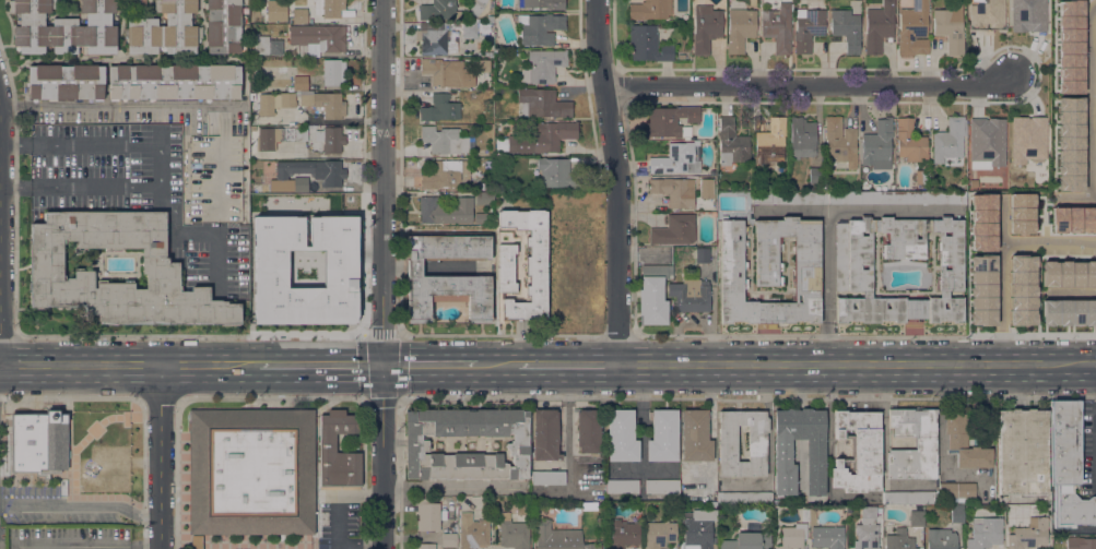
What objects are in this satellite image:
building: (544, 3)
building: (329, 8)
building: (276, 10)
building: (438, 10)
building: (649, 10)
building: (989, 14)
building: (1029, 14)
building: (299, 15)
building: (491, 19)
building: (223, 26)
building: (879, 26)
building: (63, 27)
building: (706, 27)
building: (777, 27)
building: (950, 27)
building: (740, 28)
building: (808, 28)
building: (846, 28)
building: (914, 28)
building: (165, 29)
building: (478, 29)
building: (541, 29)
building: (319, 37)
building: (439, 38)
building: (647, 44)
building: (266, 45)
building: (1070, 46)
building: (484, 53)
building: (682, 56)
building: (545, 64)
building: (483, 65)
building: (333, 71)
building: (447, 73)
building: (134, 82)
building: (299, 83)
road: (809, 85)
road: (1092, 100)
building: (274, 103)
building: (543, 103)
building: (326, 104)
road: (121, 108)
building: (439, 108)
building: (669, 120)
building: (300, 134)
building: (539, 138)
building: (801, 138)
building: (1030, 138)
building: (266, 139)
building: (332, 140)
building: (444, 140)
building: (909, 141)
building: (770, 142)
building: (840, 142)
building: (988, 142)
building: (731, 143)
building: (950, 143)
building: (1071, 143)
road: (15, 144)
building: (877, 146)
building: (675, 159)
building: (490, 166)
road: (162, 167)
road: (401, 167)
building: (557, 174)
building: (447, 175)
building: (328, 176)
building: (816, 176)
building: (920, 177)
building: (214, 178)
road: (616, 181)
building: (706, 187)
road: (15, 189)
building: (675, 191)
parking lot: (135, 195)
building: (896, 196)
building: (483, 198)
building: (788, 198)
building: (445, 211)
building: (1022, 214)
building: (480, 217)
building: (1072, 218)
building: (983, 223)
building: (674, 230)
road: (200, 234)
road: (0, 238)
road: (1049, 242)
building: (897, 248)
building: (703, 255)
road: (1003, 262)
building: (529, 264)
building: (161, 266)
building: (303, 268)
building: (505, 268)
building: (769, 271)
road: (384, 274)
building: (1069, 274)
building: (446, 276)
road: (828, 287)
building: (1024, 290)
building: (690, 293)
building: (985, 293)
road: (1071, 293)
building: (653, 294)
building: (867, 294)
building: (943, 294)
building: (898, 309)
building: (1069, 311)
road: (364, 336)
road: (1003, 348)
road: (81, 363)
road: (191, 363)
road: (0, 365)
road: (241, 365)
road: (322, 365)
road: (568, 365)
road: (856, 365)
traffic signals: (384, 366)
road: (431, 366)
road: (498, 366)
road: (1095, 366)
building: (588, 431)
building: (545, 434)
building: (621, 435)
building: (663, 435)
building: (695, 435)
building: (38, 442)
building: (965, 442)
building: (327, 443)
building: (926, 443)
building: (416, 444)
building: (728, 446)
building: (815, 451)
building: (858, 452)
building: (1022, 452)
road: (160, 455)
building: (1068, 466)
building: (250, 472)
road: (401, 473)
building: (547, 477)
building: (622, 486)
building: (662, 486)
road: (451, 487)
building: (957, 490)
building: (744, 498)
building: (908, 498)
building: (777, 501)
building: (711, 503)
road: (81, 508)
building: (957, 513)
building: (804, 514)
building: (869, 514)
building: (427, 516)
building: (812, 516)
building: (916, 517)
road: (337, 520)
building: (697, 528)
building: (472, 532)
building: (514, 533)
building: (985, 533)
building: (622, 534)
building: (659, 534)
building: (1029, 534)
building: (792, 536)
building: (867, 536)
building: (559, 537)
building: (827, 537)
building: (942, 538)
building: (449, 539)
building: (899, 540)
building: (746, 541)
building: (196, 542)
building: (1081, 542)
building: (425, 546)
road: (69, 547)
road: (144, 547)

